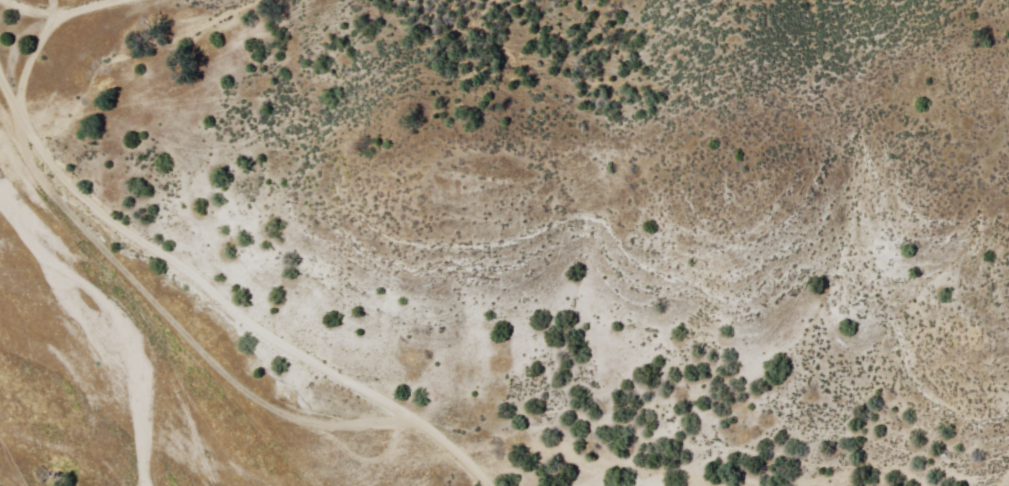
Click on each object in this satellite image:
road: (55, 10)
road: (33, 57)
road: (222, 303)

